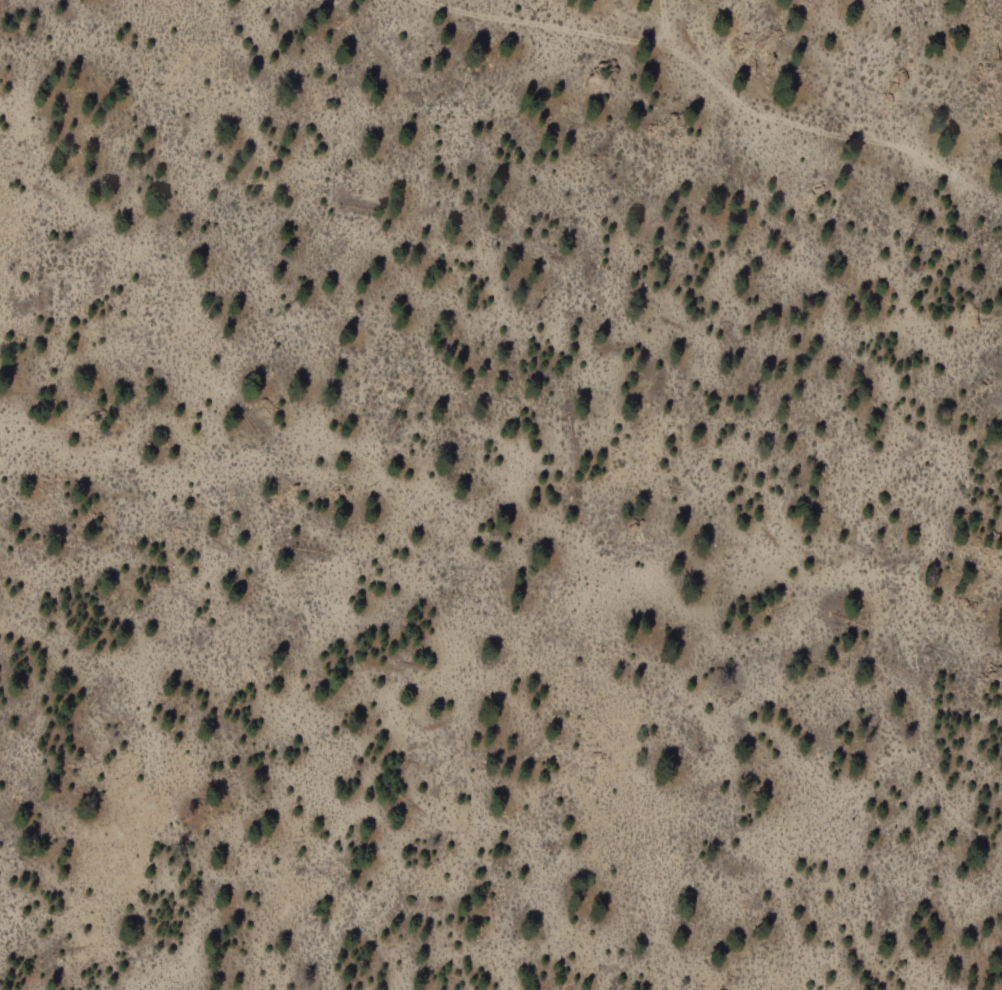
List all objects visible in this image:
road: (675, 27)
road: (682, 55)

